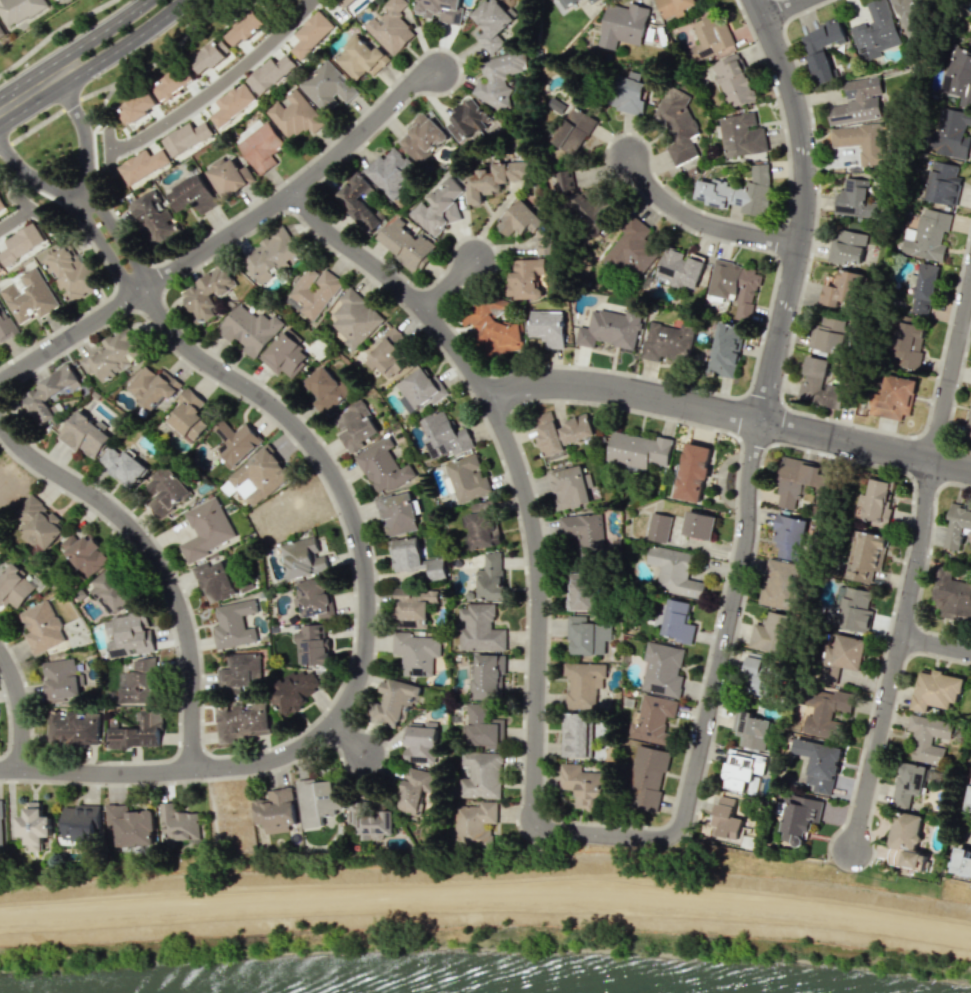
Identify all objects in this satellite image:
building: (591, 1)
building: (346, 2)
building: (569, 2)
building: (674, 6)
road: (786, 9)
building: (18, 10)
building: (439, 10)
building: (911, 16)
building: (491, 23)
building: (622, 25)
building: (390, 26)
building: (246, 28)
building: (875, 31)
building: (1, 33)
building: (311, 34)
road: (57, 35)
building: (711, 38)
road: (123, 45)
road: (73, 48)
building: (821, 48)
building: (210, 55)
building: (361, 59)
building: (269, 73)
building: (958, 75)
building: (498, 77)
building: (734, 81)
building: (174, 84)
road: (217, 84)
building: (327, 87)
building: (627, 94)
building: (858, 102)
road: (70, 103)
road: (30, 104)
building: (232, 104)
building: (138, 106)
building: (294, 114)
building: (468, 121)
building: (677, 124)
road: (36, 126)
building: (573, 131)
building: (950, 132)
building: (741, 135)
building: (186, 138)
building: (422, 138)
building: (862, 141)
road: (5, 145)
building: (142, 165)
building: (390, 172)
building: (227, 176)
road: (85, 178)
building: (494, 179)
building: (943, 183)
road: (295, 187)
building: (739, 192)
building: (191, 195)
building: (854, 199)
building: (360, 202)
building: (1, 205)
road: (28, 205)
road: (77, 206)
building: (439, 206)
road: (801, 208)
building: (594, 212)
road: (15, 216)
building: (155, 218)
road: (699, 222)
building: (528, 226)
building: (927, 235)
building: (20, 243)
building: (406, 245)
building: (632, 247)
building: (847, 247)
building: (271, 255)
building: (0, 269)
building: (680, 269)
building: (69, 272)
building: (526, 279)
road: (447, 281)
building: (735, 286)
building: (923, 288)
building: (841, 290)
building: (312, 292)
building: (207, 293)
building: (30, 296)
building: (355, 318)
building: (5, 325)
building: (494, 326)
building: (547, 327)
building: (249, 329)
building: (610, 329)
building: (829, 334)
road: (70, 336)
building: (667, 341)
building: (908, 344)
building: (725, 348)
building: (285, 354)
building: (114, 355)
building: (389, 356)
road: (786, 363)
road: (952, 376)
building: (824, 385)
building: (153, 386)
building: (325, 389)
building: (419, 390)
building: (48, 394)
road: (953, 394)
building: (893, 398)
road: (730, 414)
building: (187, 416)
building: (356, 426)
building: (968, 426)
building: (575, 429)
building: (548, 434)
building: (84, 435)
building: (444, 436)
road: (932, 436)
building: (235, 441)
building: (639, 449)
building: (124, 466)
building: (383, 467)
building: (693, 470)
building: (258, 476)
building: (465, 478)
building: (798, 481)
building: (570, 487)
building: (165, 491)
building: (875, 501)
building: (398, 514)
building: (37, 523)
building: (698, 525)
building: (957, 525)
building: (658, 527)
building: (205, 529)
building: (789, 536)
road: (360, 539)
road: (705, 544)
building: (84, 553)
building: (867, 555)
building: (584, 557)
building: (302, 558)
building: (414, 558)
road: (157, 562)
building: (674, 571)
building: (490, 577)
building: (216, 581)
building: (781, 585)
building: (14, 586)
building: (110, 590)
building: (952, 598)
building: (314, 599)
building: (411, 607)
building: (854, 608)
building: (677, 621)
building: (233, 624)
building: (41, 627)
building: (479, 628)
building: (771, 632)
building: (128, 634)
building: (587, 636)
road: (936, 643)
building: (312, 644)
building: (414, 653)
road: (895, 654)
building: (842, 657)
building: (662, 669)
building: (240, 670)
building: (758, 675)
building: (488, 676)
building: (61, 679)
building: (138, 682)
building: (583, 683)
building: (937, 690)
building: (291, 691)
building: (393, 700)
road: (21, 709)
building: (825, 711)
building: (652, 719)
building: (241, 721)
building: (483, 726)
building: (72, 728)
building: (136, 731)
building: (752, 731)
building: (579, 734)
road: (348, 737)
building: (928, 738)
building: (420, 742)
road: (532, 747)
building: (819, 764)
building: (741, 768)
road: (97, 774)
building: (480, 775)
building: (647, 777)
building: (908, 783)
building: (583, 784)
building: (414, 789)
building: (968, 796)
building: (317, 801)
building: (274, 811)
building: (800, 816)
building: (726, 819)
building: (79, 822)
building: (0, 823)
building: (178, 824)
building: (374, 824)
building: (473, 824)
building: (129, 825)
road: (659, 825)
building: (33, 826)
building: (908, 840)
road: (217, 856)
building: (962, 863)
road: (600, 880)
road: (486, 898)

